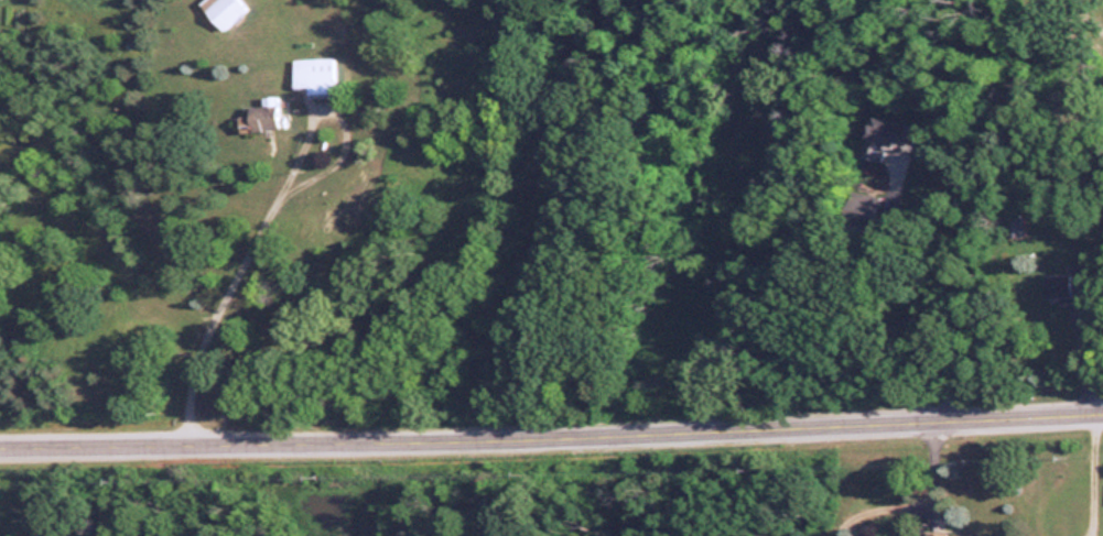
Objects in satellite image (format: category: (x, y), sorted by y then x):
building: (221, 11)
building: (314, 75)
building: (259, 116)
building: (888, 138)
road: (233, 271)
building: (1060, 286)
road: (551, 430)
building: (953, 534)

